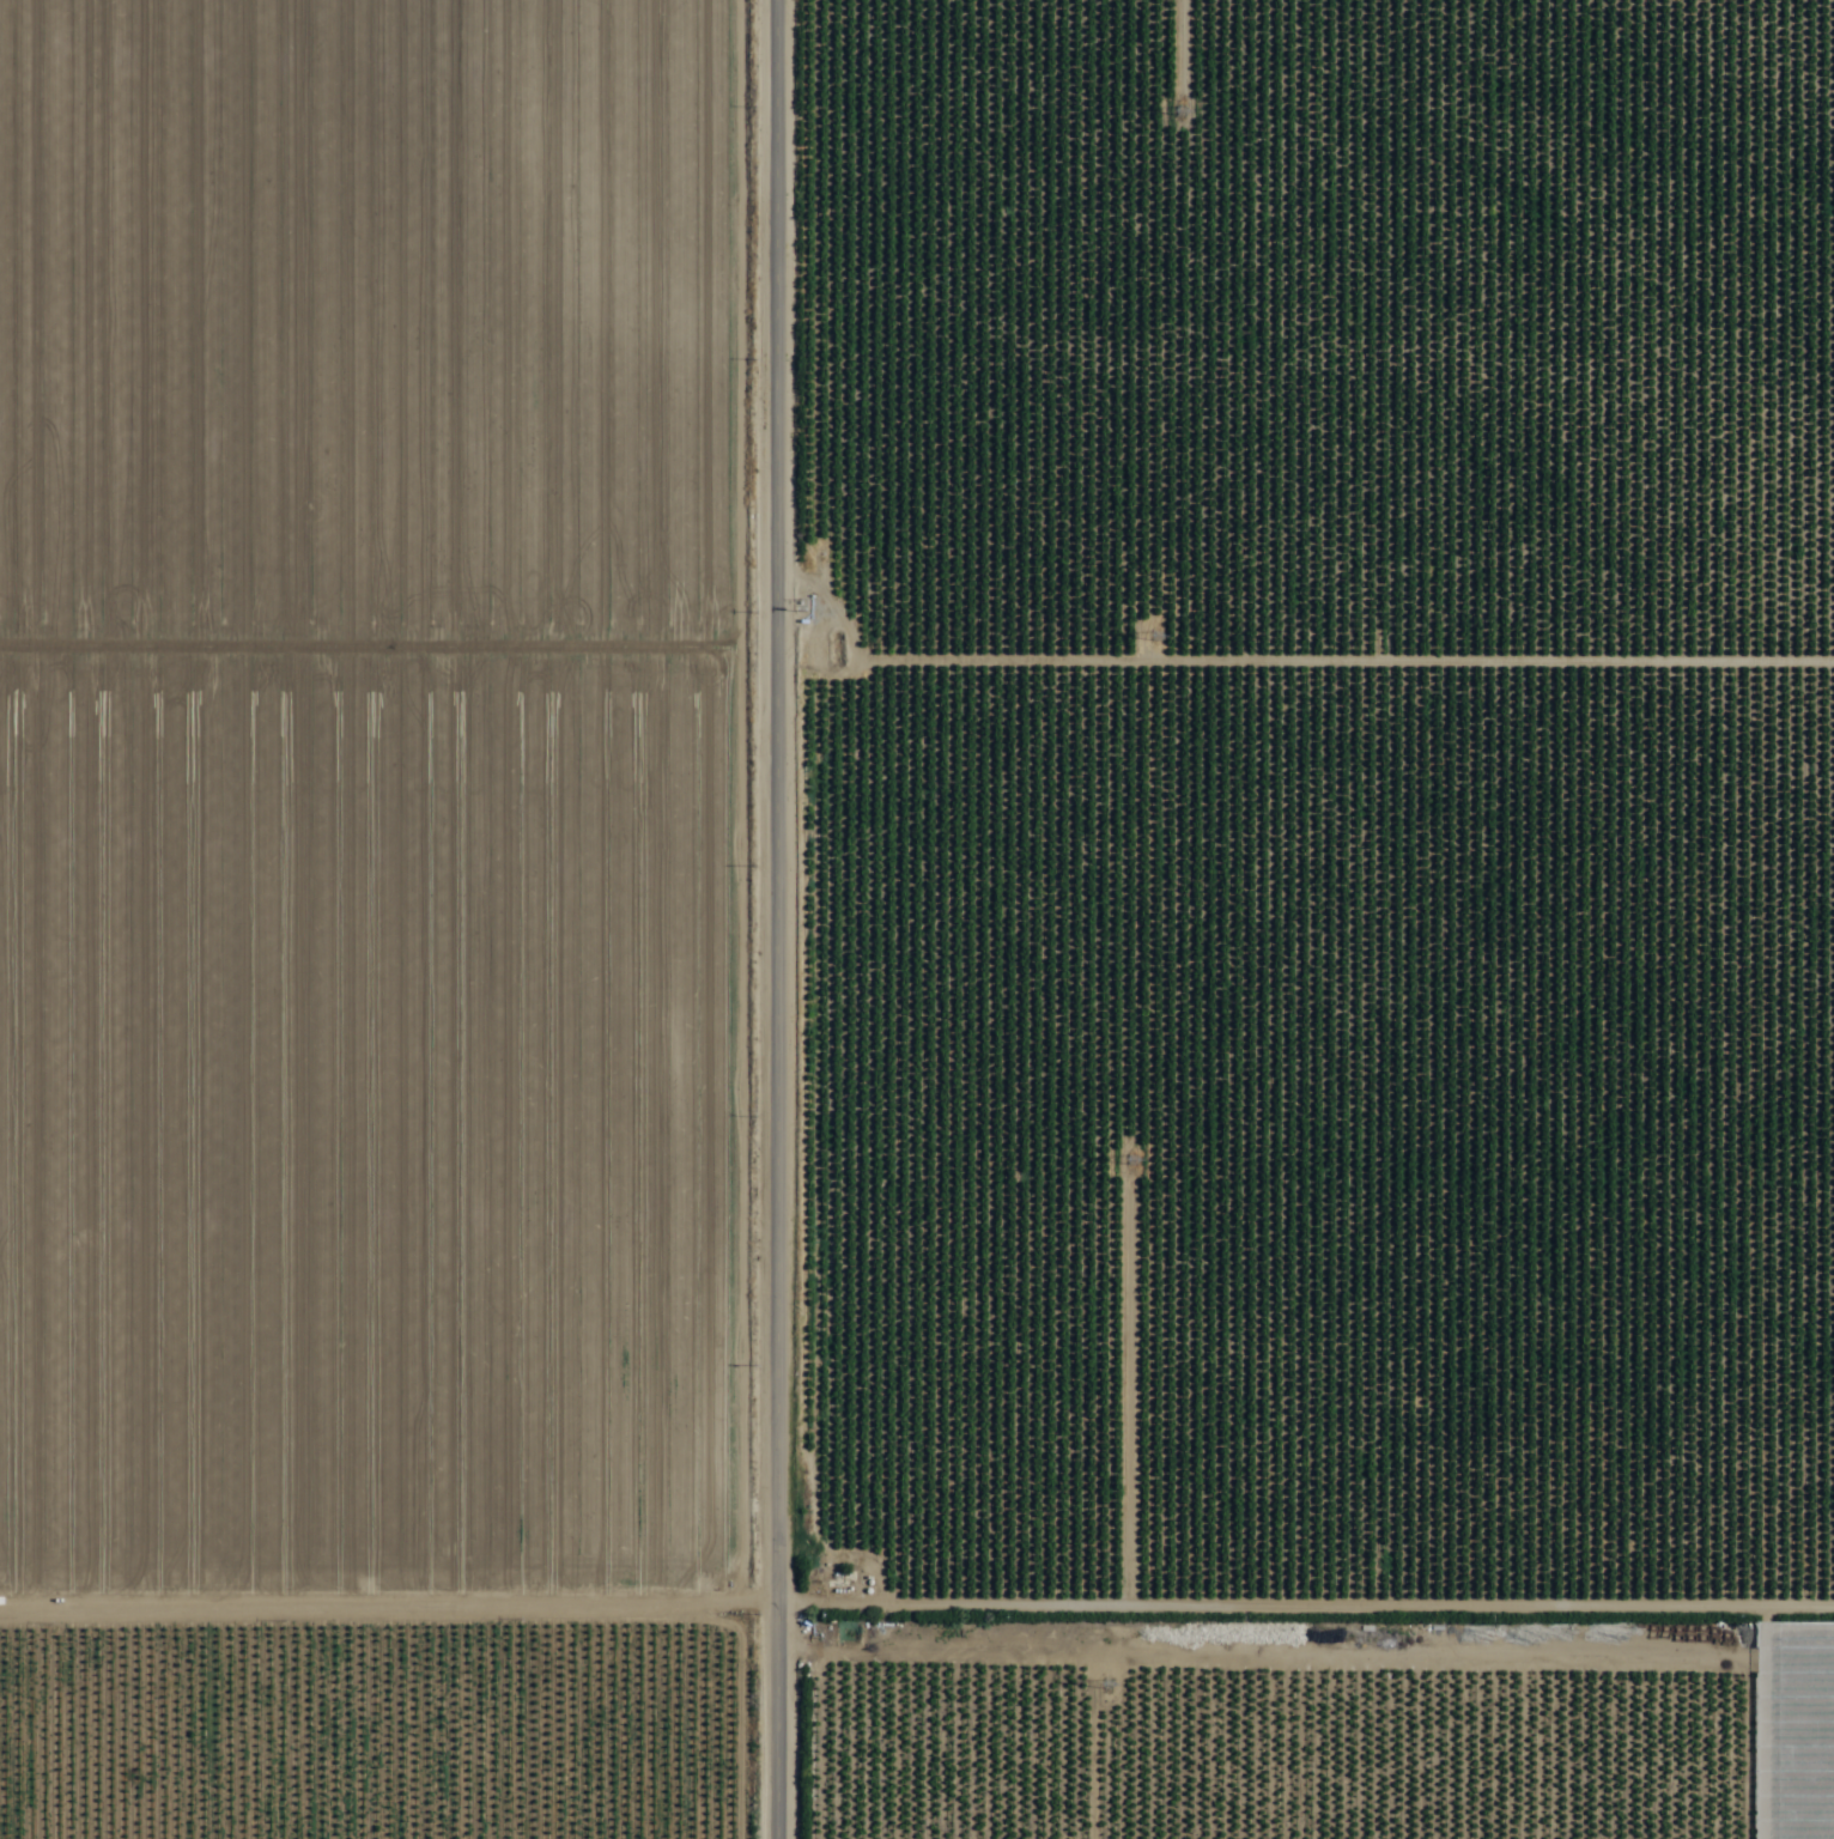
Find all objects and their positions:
power tower: (1180, 114)
power tower: (1156, 638)
road: (781, 919)
crop: (549, 967)
power tower: (1132, 1165)
road: (916, 1577)
power tower: (1113, 1685)

